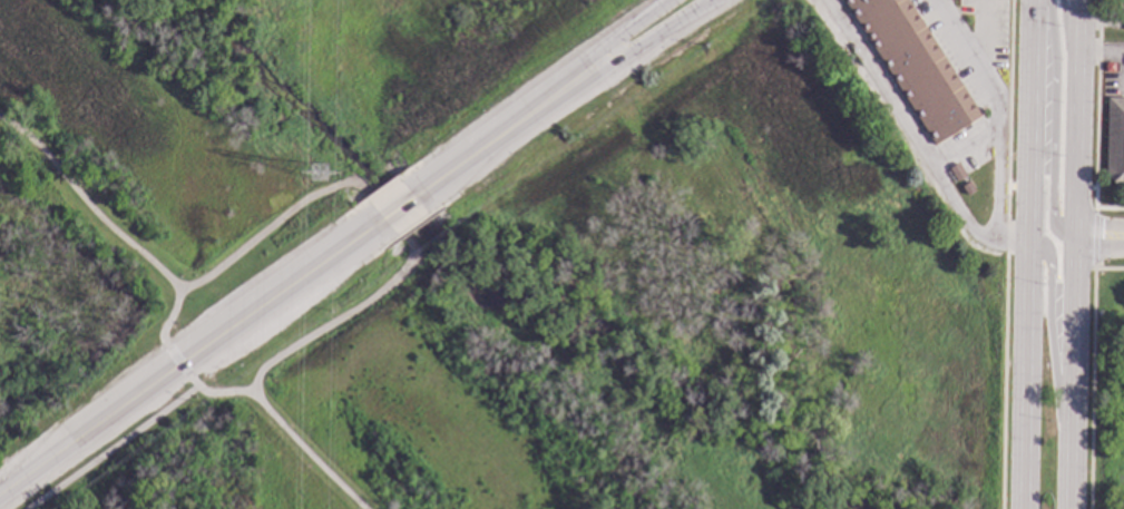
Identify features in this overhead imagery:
building: (1123, 2)
building: (1123, 21)
road: (606, 45)
road: (631, 49)
road: (1101, 56)
road: (1067, 61)
building: (915, 65)
building: (1108, 67)
road: (1052, 123)
building: (1115, 141)
road: (486, 143)
road: (942, 158)
building: (956, 173)
road: (995, 182)
building: (968, 189)
road: (395, 207)
road: (968, 217)
road: (388, 221)
road: (106, 224)
road: (1098, 235)
road: (1025, 254)
road: (1072, 254)
park: (475, 273)
river: (468, 278)
road: (1048, 321)
road: (184, 358)
road: (176, 360)
park: (1105, 385)
road: (283, 427)
road: (111, 448)

